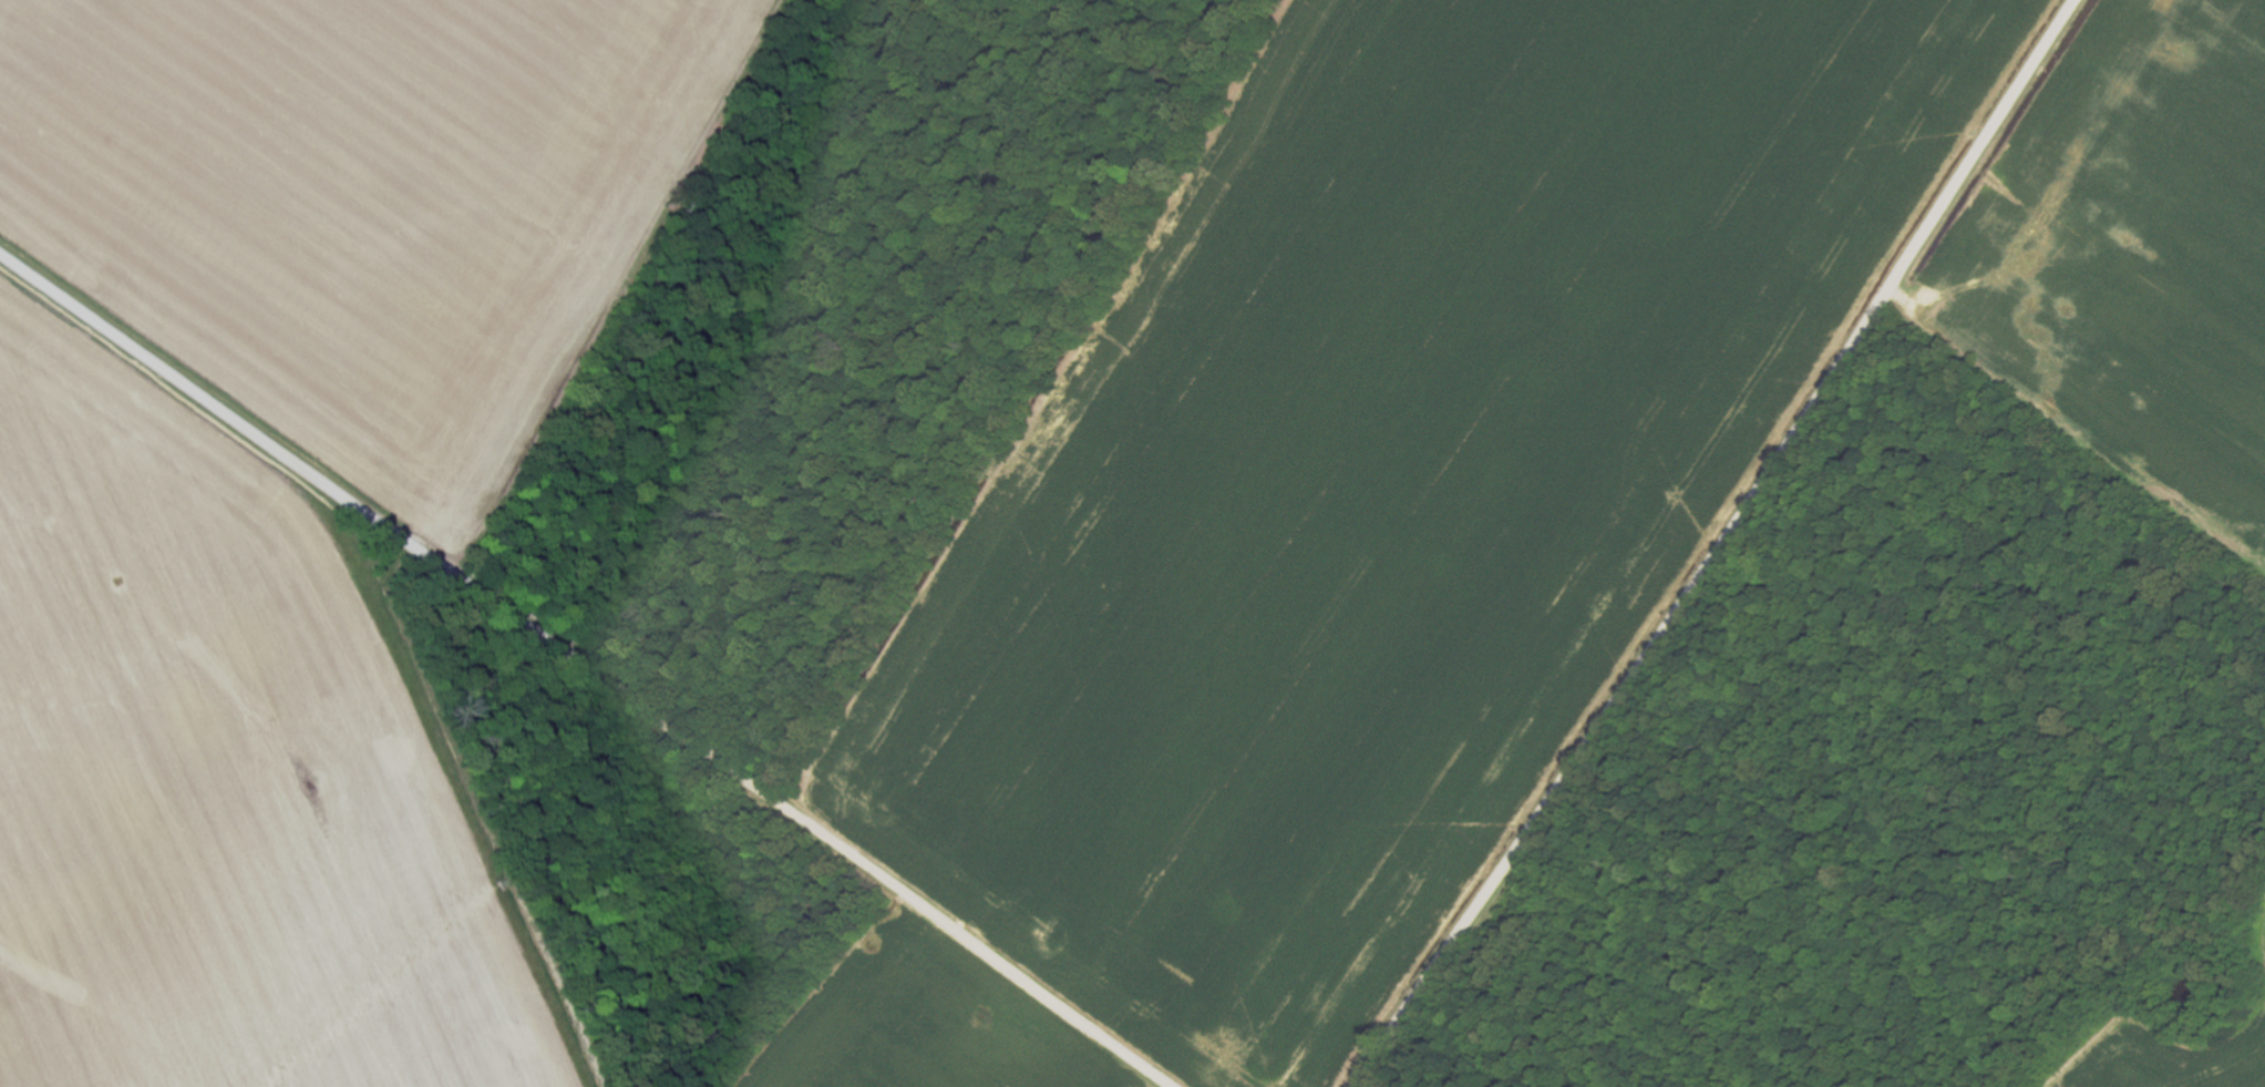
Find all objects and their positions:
road: (1722, 546)
road: (586, 668)

